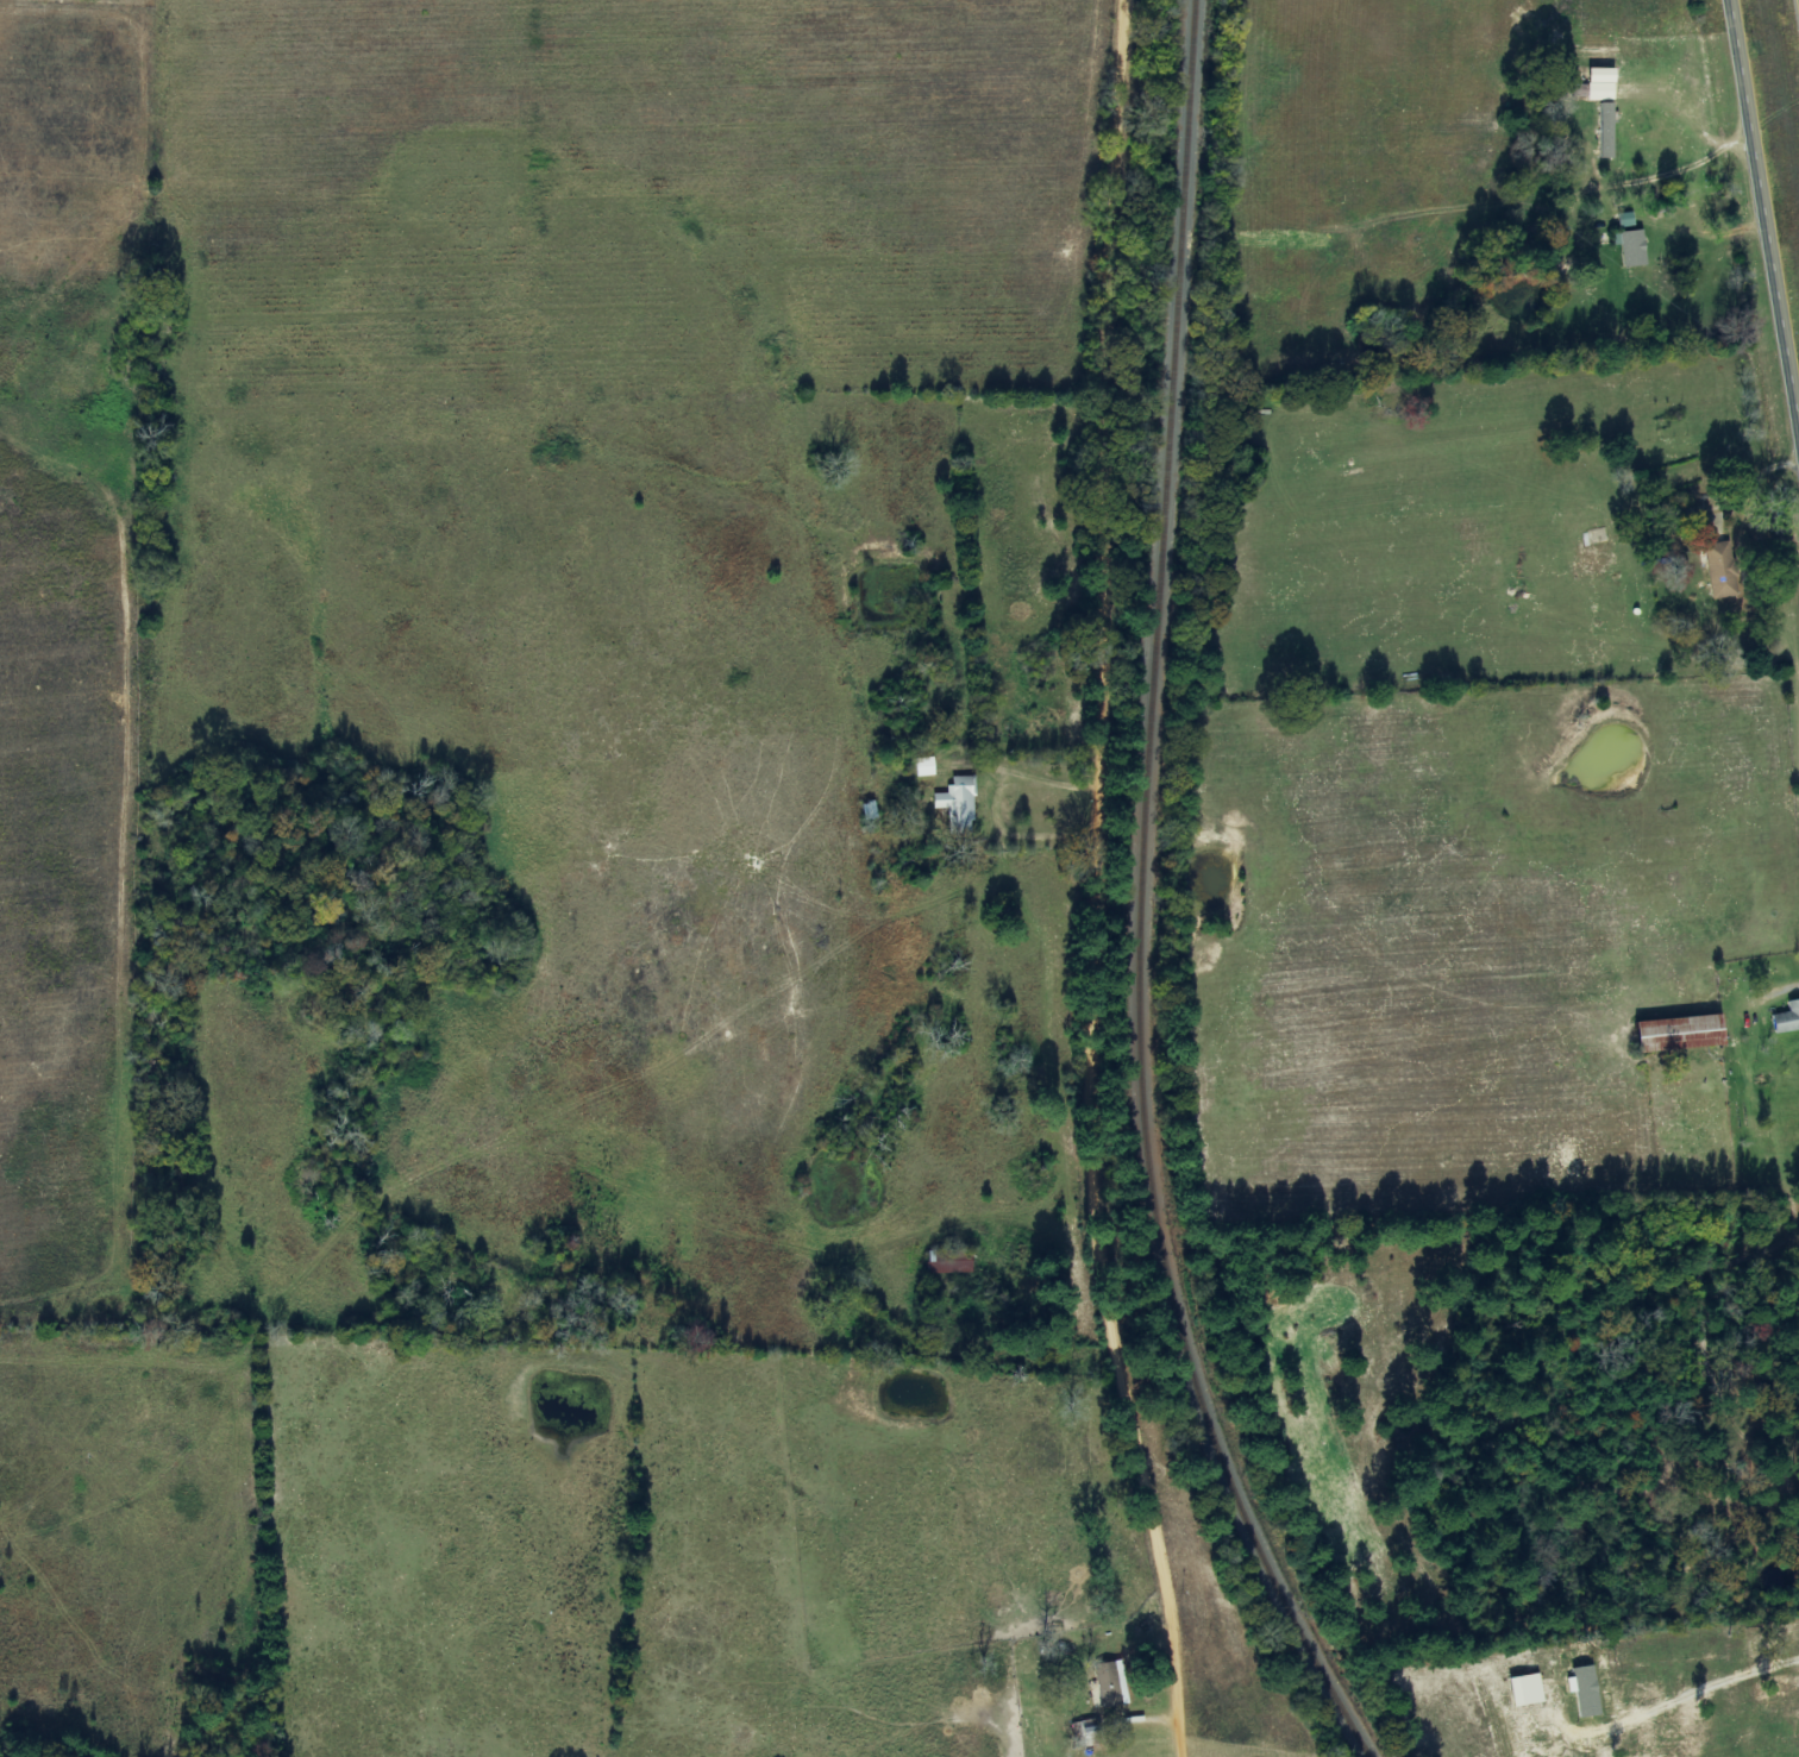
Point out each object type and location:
building: (1603, 75)
building: (1607, 130)
road: (1766, 190)
building: (1625, 220)
building: (1631, 247)
building: (1670, 544)
building: (1720, 564)
building: (924, 766)
road: (1091, 883)
railway: (1137, 899)
building: (1787, 1018)
building: (1681, 1033)
building: (949, 1262)
building: (1109, 1684)
building: (1585, 1690)
building: (1089, 1732)

